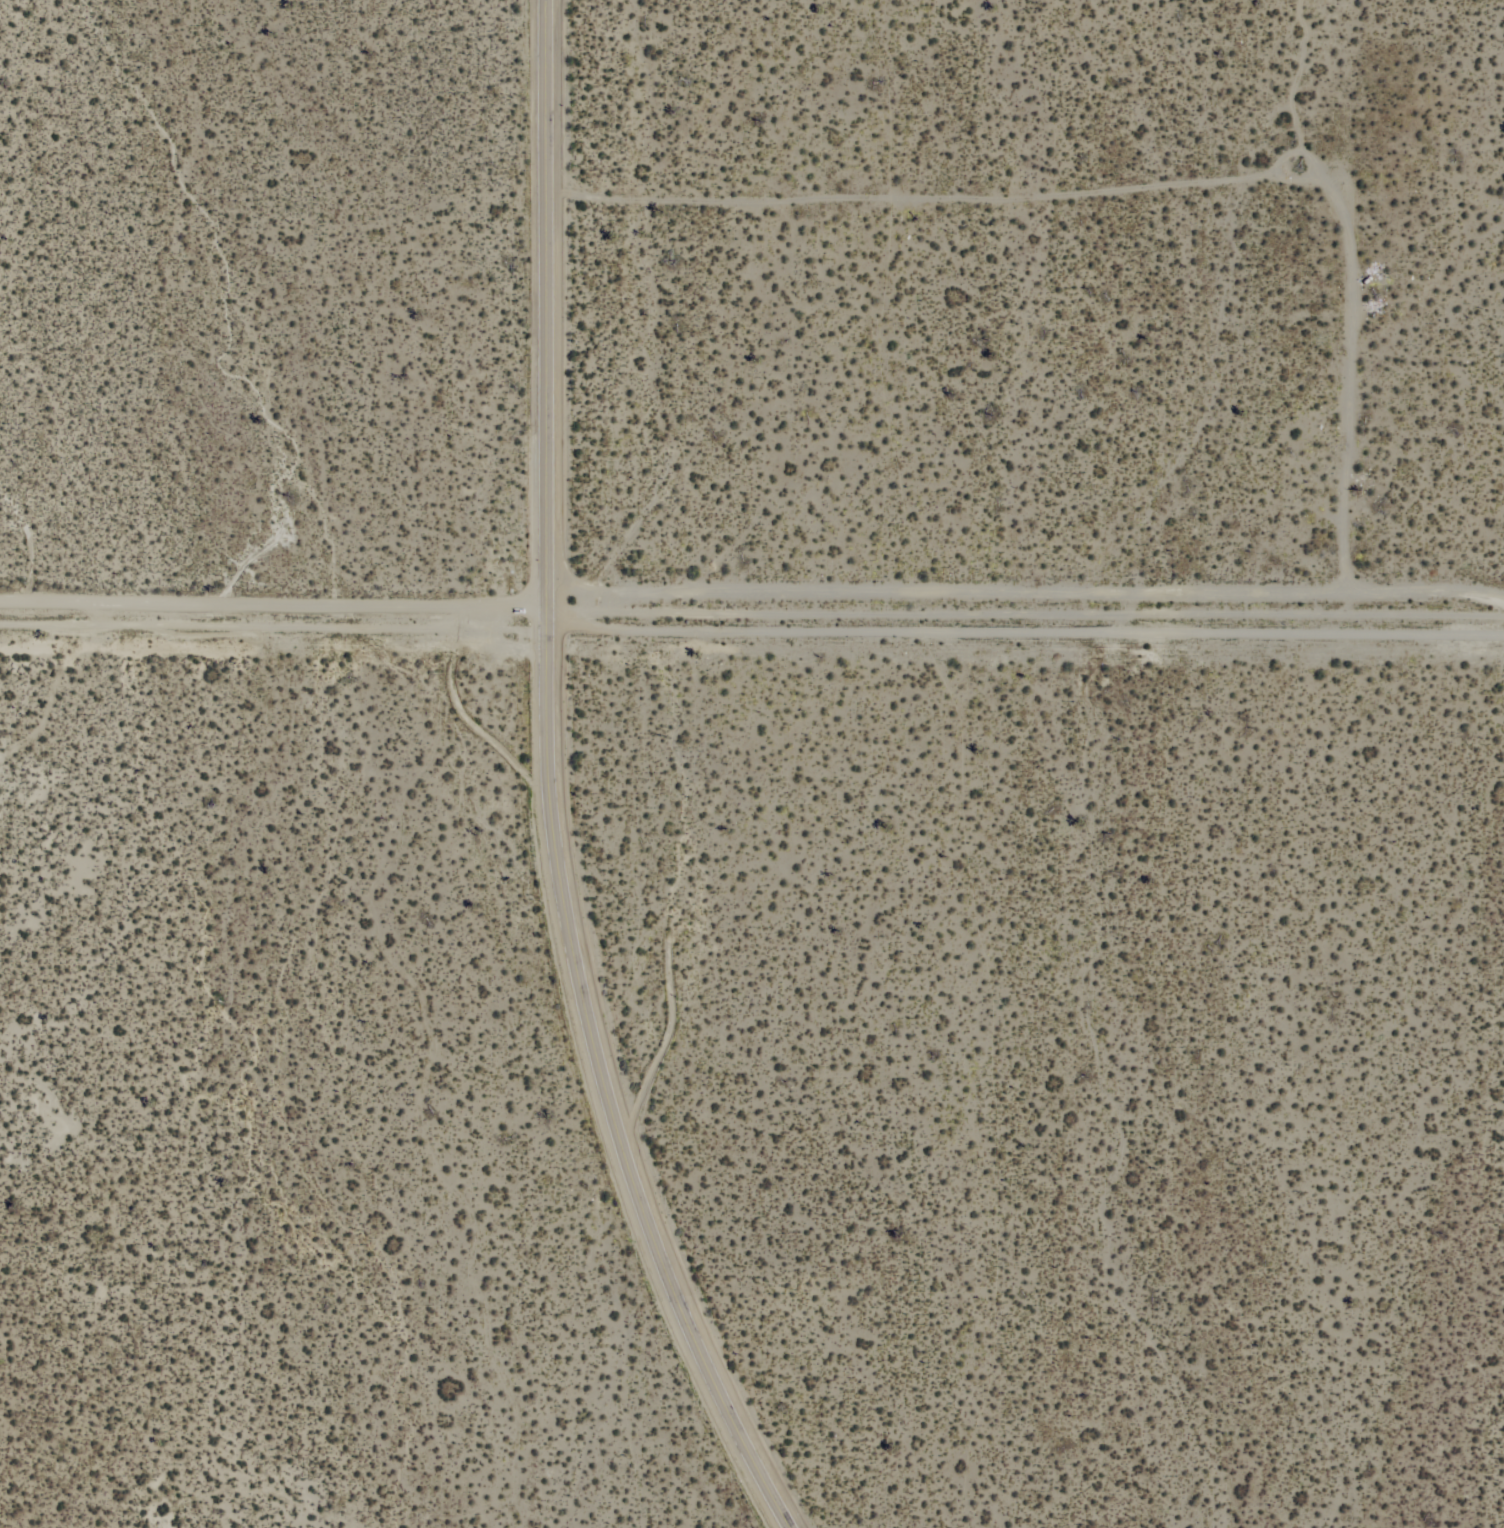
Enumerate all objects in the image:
road: (1146, 185)
road: (1024, 591)
road: (272, 610)
road: (1024, 624)
road: (544, 786)

